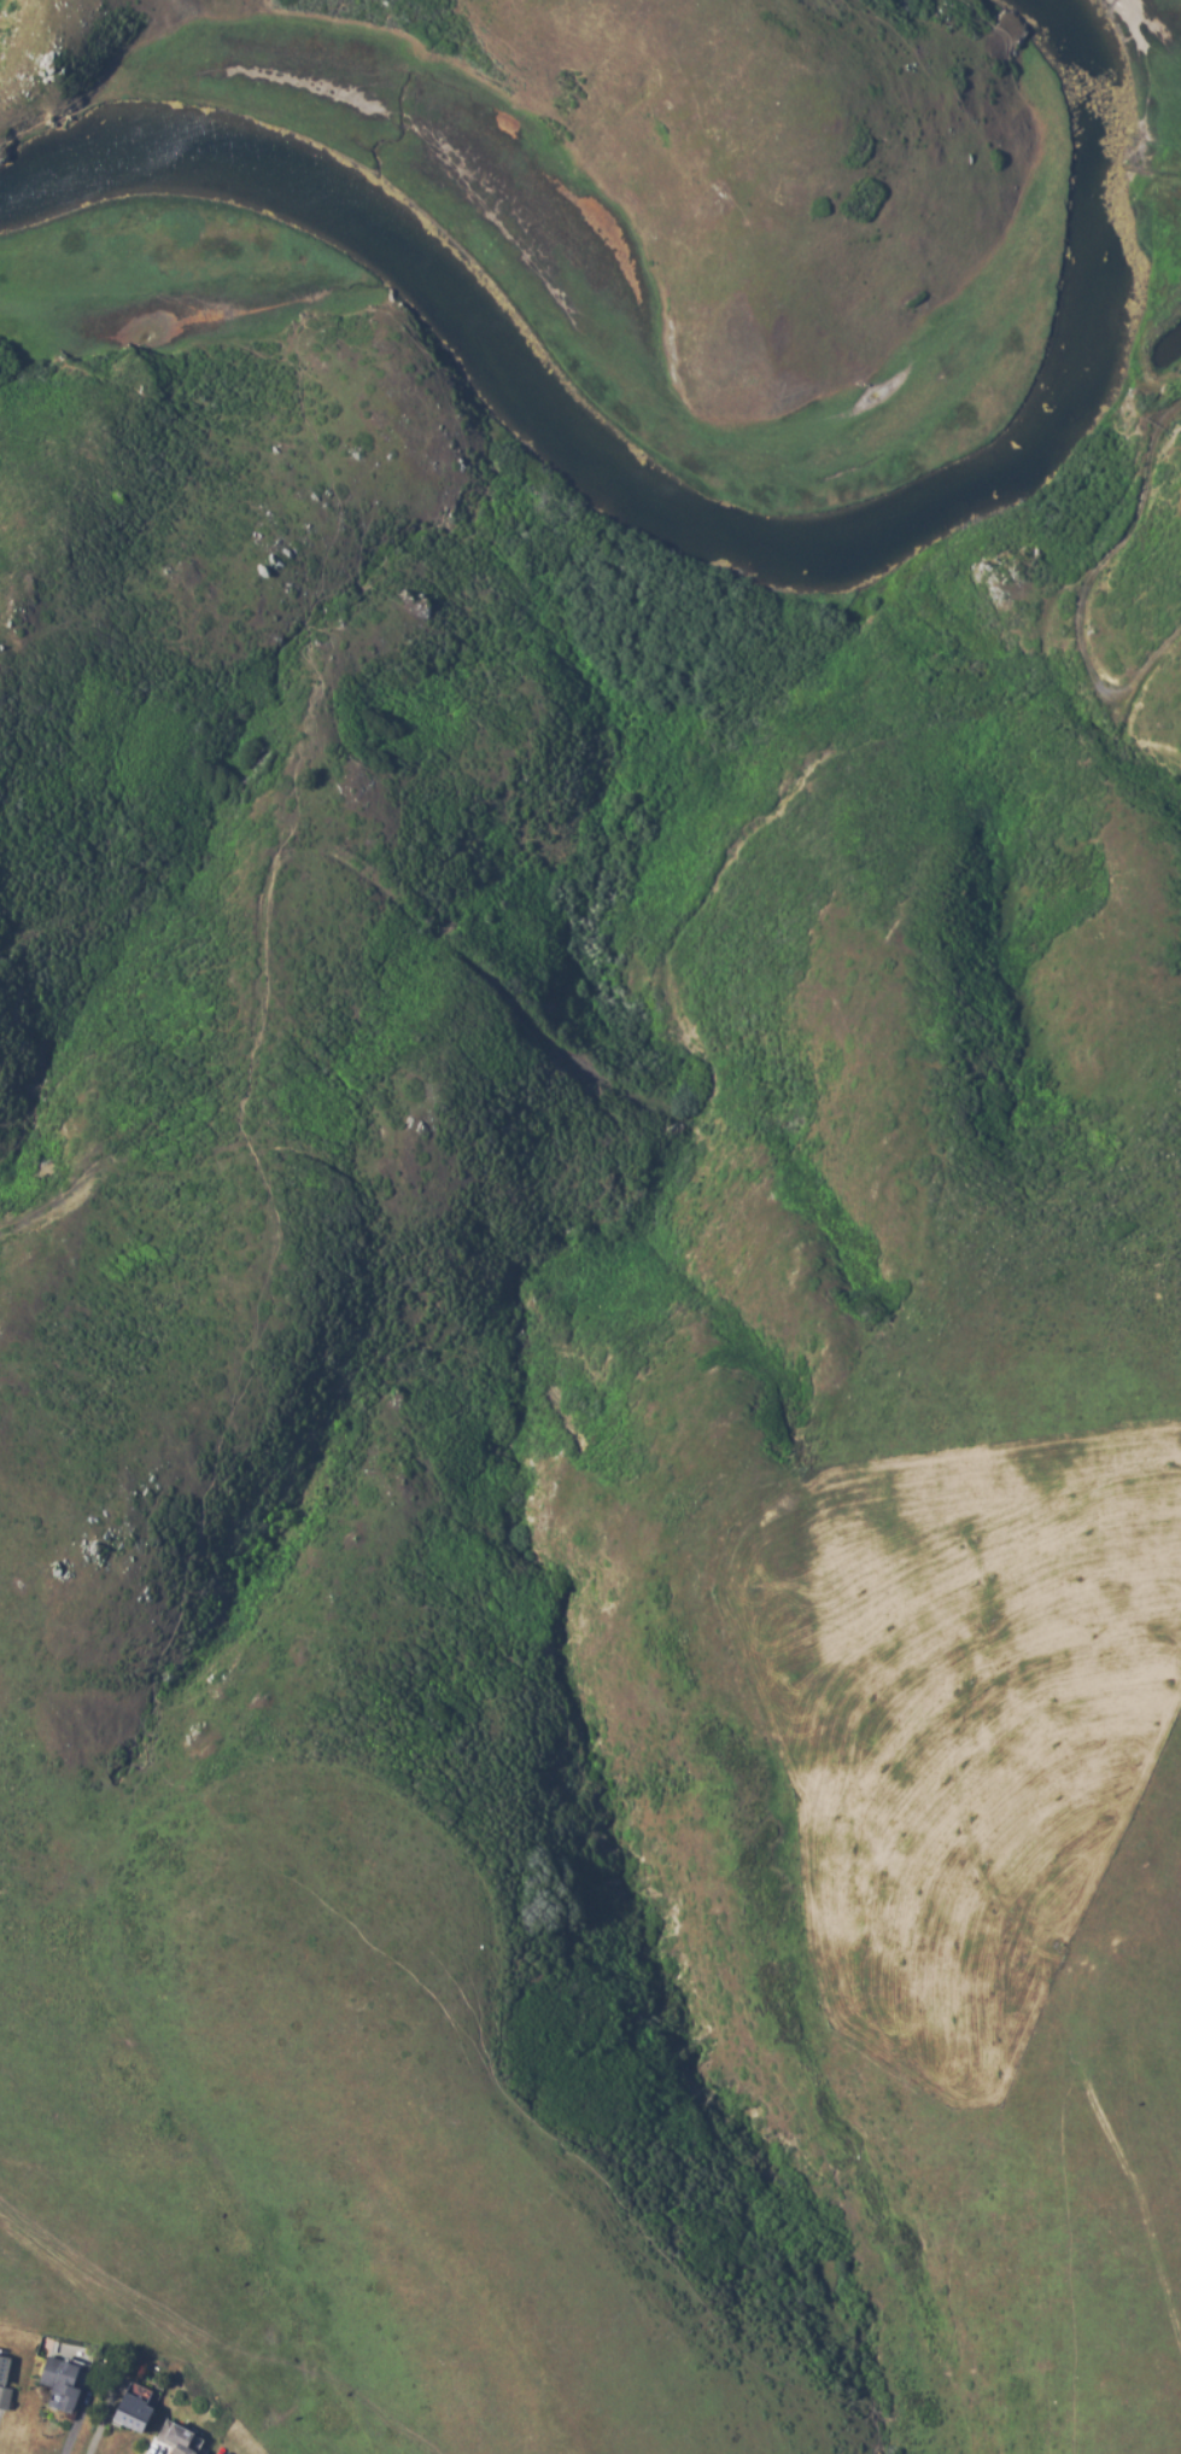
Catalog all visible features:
road: (74, 2284)
building: (4, 2382)
building: (62, 2384)
building: (138, 2413)
road: (77, 2427)
road: (98, 2436)
building: (179, 2438)

